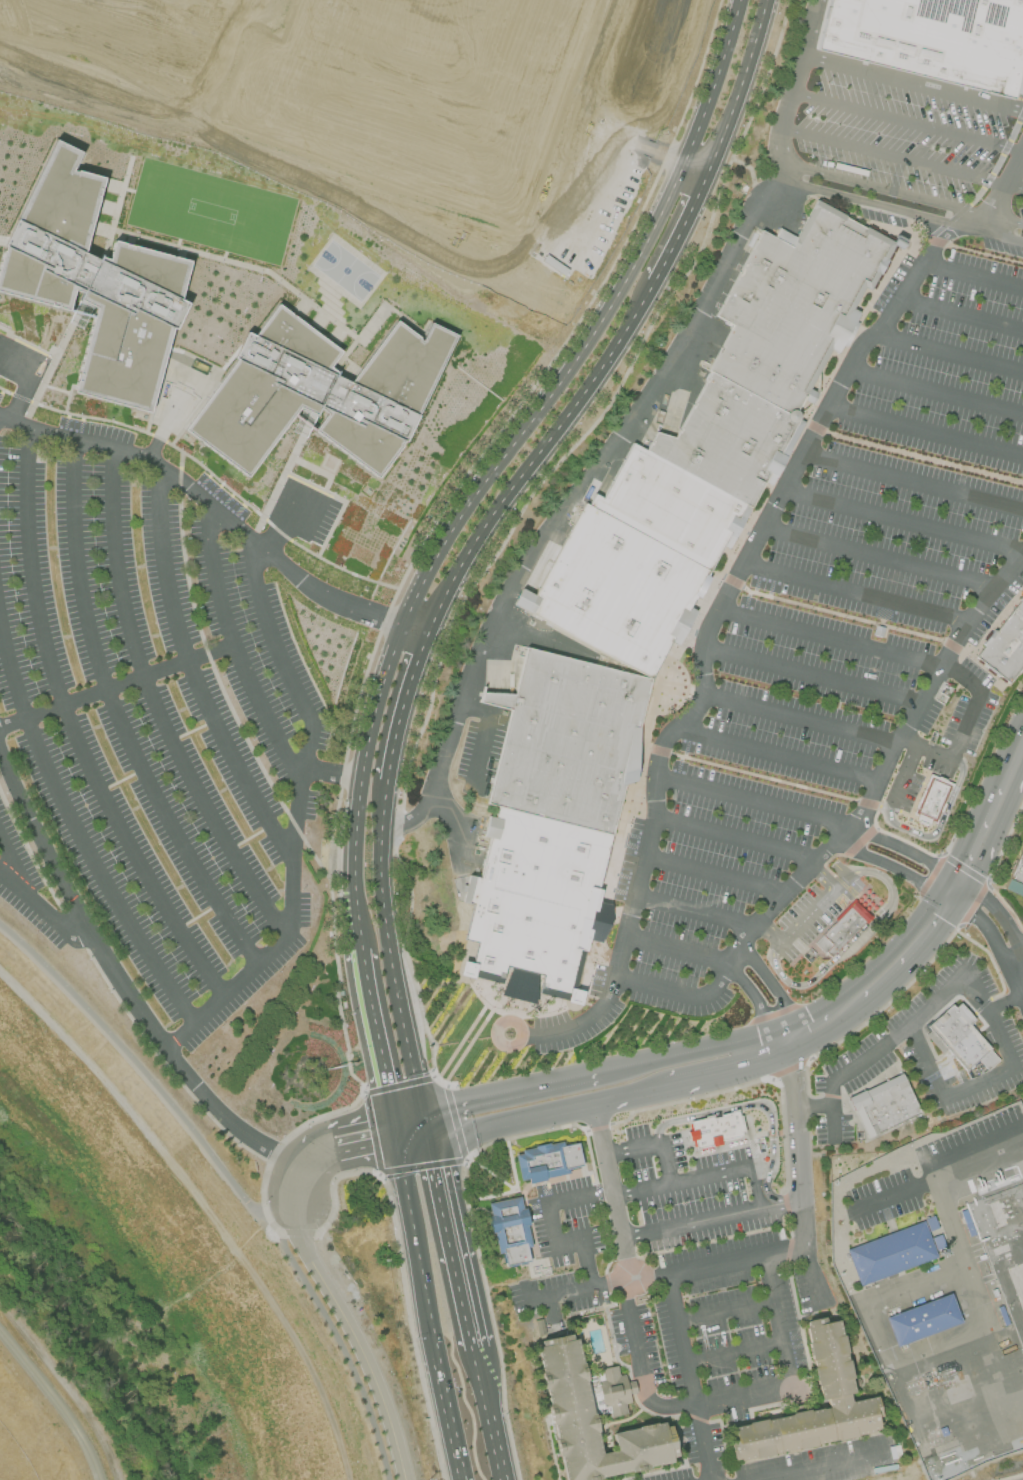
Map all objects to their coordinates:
road: (191, 0)
road: (211, 8)
road: (236, 8)
road: (263, 21)
building: (941, 24)
road: (133, 31)
road: (916, 49)
road: (216, 65)
building: (421, 85)
road: (739, 87)
road: (791, 88)
road: (912, 89)
road: (906, 120)
road: (573, 125)
road: (902, 158)
road: (307, 166)
road: (1005, 183)
road: (902, 194)
road: (903, 210)
road: (680, 228)
road: (968, 249)
road: (973, 274)
building: (98, 295)
road: (961, 316)
road: (948, 352)
road: (936, 391)
building: (328, 393)
road: (925, 430)
road: (508, 451)
building: (711, 451)
road: (142, 455)
road: (535, 458)
road: (329, 471)
road: (912, 483)
road: (567, 503)
road: (282, 521)
road: (902, 522)
road: (877, 557)
road: (854, 592)
road: (338, 597)
road: (996, 623)
road: (827, 637)
road: (704, 638)
road: (234, 646)
road: (421, 649)
building: (1006, 650)
road: (194, 674)
road: (810, 676)
road: (116, 686)
road: (922, 693)
road: (156, 706)
road: (118, 717)
road: (800, 718)
parking lot: (156, 726)
road: (966, 726)
road: (73, 728)
road: (396, 729)
road: (485, 729)
road: (776, 756)
road: (1013, 766)
road: (333, 771)
road: (902, 777)
road: (756, 800)
building: (928, 801)
road: (295, 818)
road: (410, 821)
building: (556, 823)
road: (941, 823)
road: (74, 826)
road: (986, 828)
road: (735, 837)
road: (901, 851)
road: (889, 866)
road: (12, 868)
road: (957, 871)
traffic signals: (948, 876)
road: (823, 877)
road: (967, 877)
road: (713, 880)
building: (1016, 880)
road: (957, 882)
road: (941, 885)
traffic signals: (967, 888)
traffic signals: (936, 895)
road: (962, 897)
road: (947, 900)
traffic signals: (958, 906)
road: (41, 909)
road: (810, 910)
road: (694, 913)
road: (998, 913)
building: (839, 930)
road: (988, 933)
road: (767, 935)
road: (360, 941)
road: (852, 946)
road: (678, 947)
road: (739, 953)
road: (887, 955)
road: (390, 956)
road: (1019, 957)
road: (915, 960)
road: (1019, 969)
road: (772, 982)
road: (124, 983)
road: (753, 998)
road: (1005, 1005)
road: (982, 1007)
road: (812, 1013)
road: (373, 1020)
road: (785, 1027)
road: (804, 1032)
road: (826, 1034)
building: (964, 1040)
road: (778, 1045)
road: (687, 1054)
road: (727, 1075)
building: (1012, 1081)
traffic signals: (385, 1084)
road: (512, 1091)
road: (388, 1100)
road: (744, 1106)
road: (830, 1107)
building: (888, 1108)
traffic signals: (424, 1111)
road: (408, 1114)
road: (549, 1114)
traffic signals: (392, 1118)
road: (354, 1124)
road: (427, 1126)
building: (713, 1129)
road: (394, 1132)
traffic signals: (395, 1133)
traffic signals: (430, 1141)
road: (653, 1143)
road: (413, 1144)
traffic signals: (397, 1148)
road: (359, 1152)
building: (549, 1164)
road: (301, 1167)
road: (705, 1176)
road: (228, 1180)
road: (799, 1181)
parking lot: (693, 1191)
road: (612, 1192)
road: (893, 1193)
road: (206, 1206)
road: (409, 1214)
road: (711, 1218)
road: (552, 1228)
road: (288, 1233)
building: (514, 1233)
road: (452, 1241)
road: (961, 1249)
building: (895, 1256)
road: (668, 1272)
parking lot: (344, 1275)
road: (725, 1311)
building: (928, 1323)
road: (356, 1337)
river: (97, 1341)
road: (734, 1352)
road: (476, 1354)
building: (825, 1363)
road: (689, 1376)
road: (440, 1381)
building: (566, 1383)
road: (67, 1384)
building: (615, 1391)
road: (722, 1396)
road: (492, 1423)
crop: (34, 1436)
road: (826, 1467)

